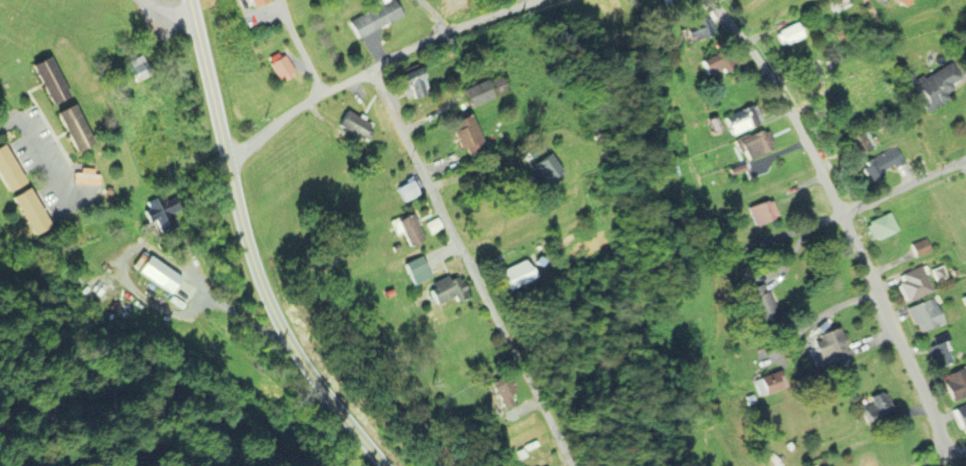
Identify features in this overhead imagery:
building: (252, 1)
building: (669, 1)
building: (900, 1)
road: (170, 10)
building: (373, 18)
road: (436, 18)
building: (697, 27)
building: (790, 33)
road: (300, 46)
road: (380, 64)
building: (718, 64)
building: (135, 67)
building: (280, 67)
building: (810, 76)
building: (50, 79)
building: (413, 85)
building: (932, 86)
building: (483, 90)
building: (742, 119)
building: (356, 125)
building: (74, 127)
building: (466, 134)
building: (754, 143)
building: (859, 143)
road: (36, 149)
building: (883, 161)
building: (542, 169)
building: (8, 171)
road: (906, 184)
building: (405, 190)
building: (29, 211)
building: (762, 211)
building: (160, 212)
road: (849, 218)
building: (881, 226)
building: (408, 229)
building: (921, 247)
road: (252, 248)
road: (467, 267)
building: (415, 270)
building: (159, 274)
building: (512, 276)
building: (914, 283)
building: (447, 289)
building: (761, 303)
building: (926, 314)
building: (831, 346)
building: (939, 352)
building: (768, 383)
building: (956, 383)
building: (499, 390)
building: (877, 407)
building: (962, 415)
road: (946, 457)
building: (828, 465)

